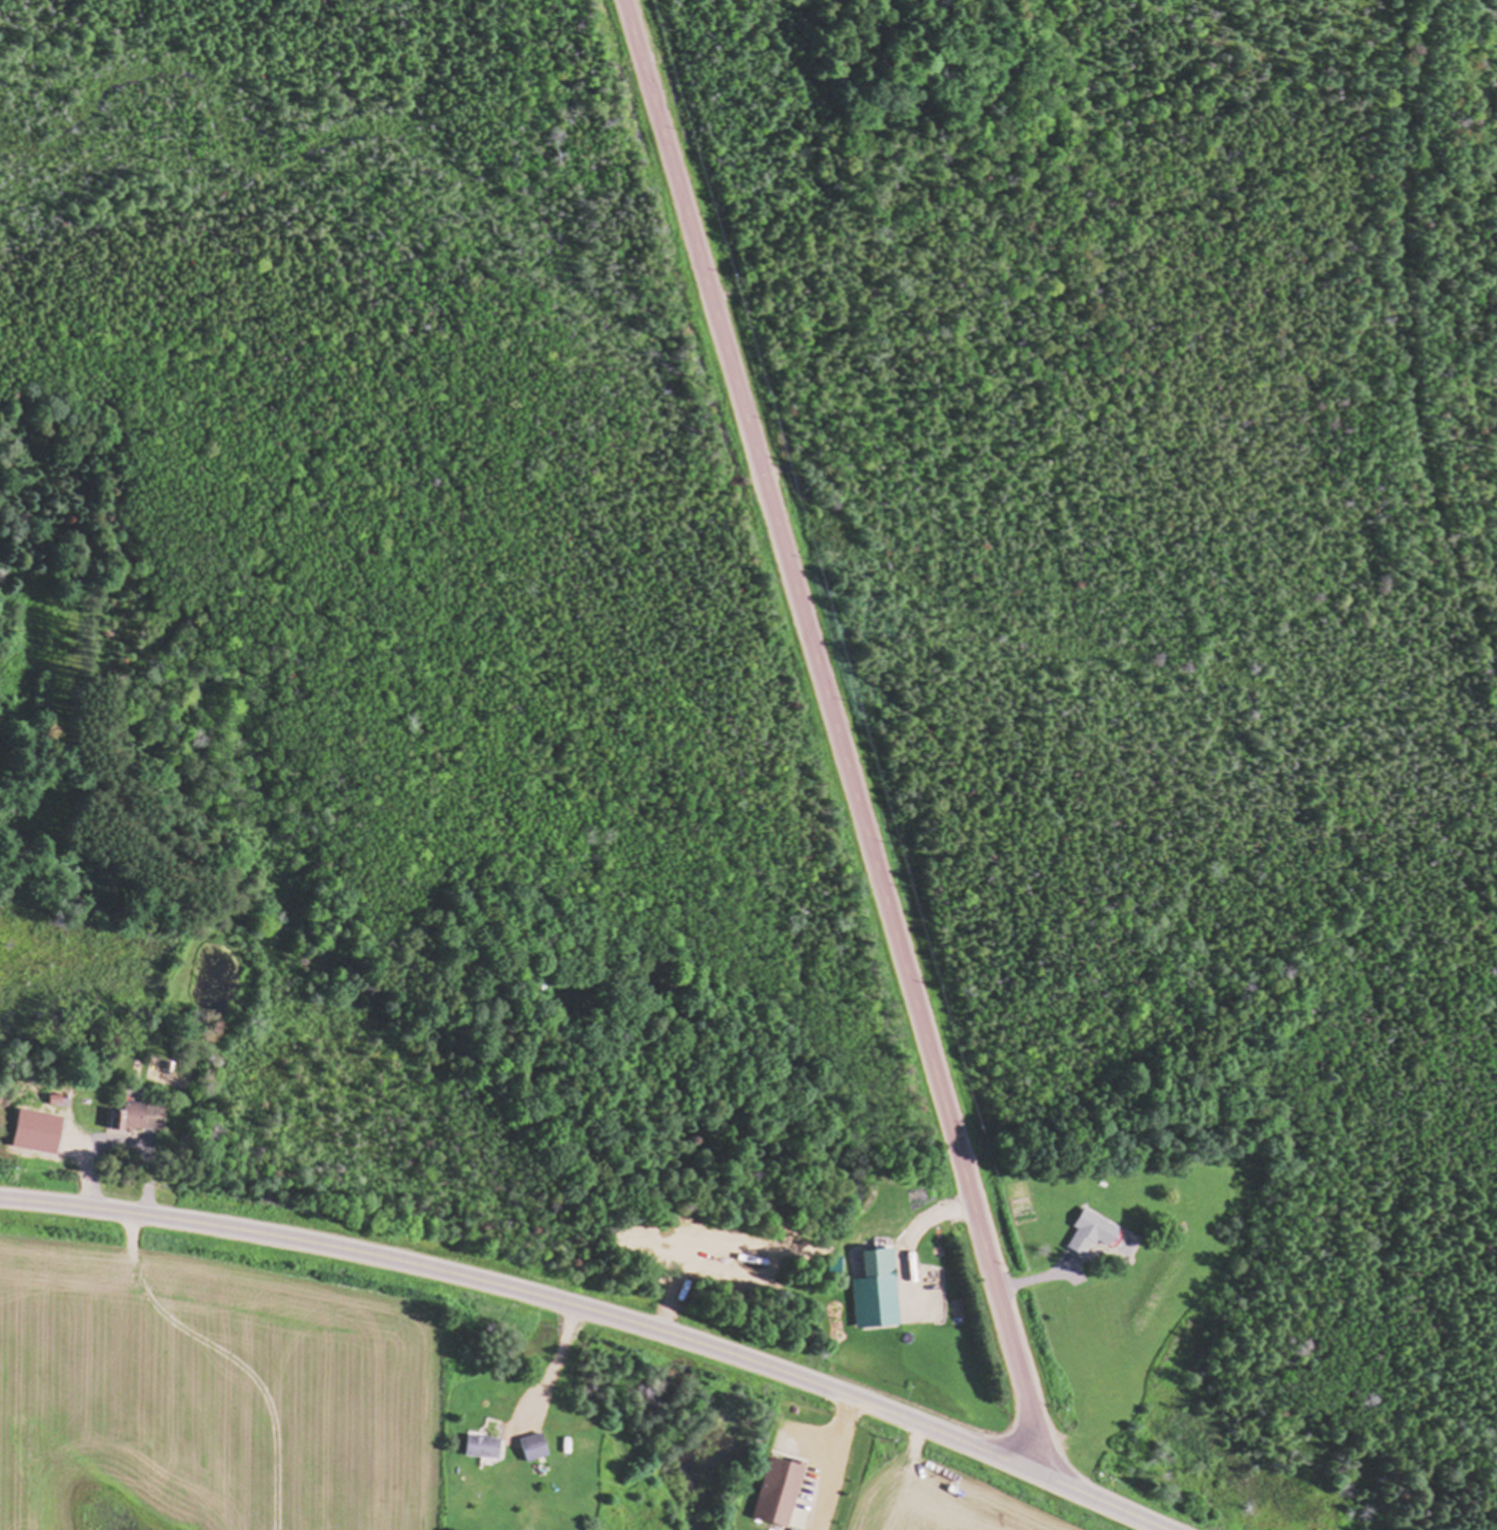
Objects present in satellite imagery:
road: (839, 740)
building: (141, 1119)
building: (1091, 1233)
road: (539, 1295)
building: (878, 1303)
building: (484, 1448)
building: (535, 1449)
building: (779, 1492)
road: (1110, 1505)

